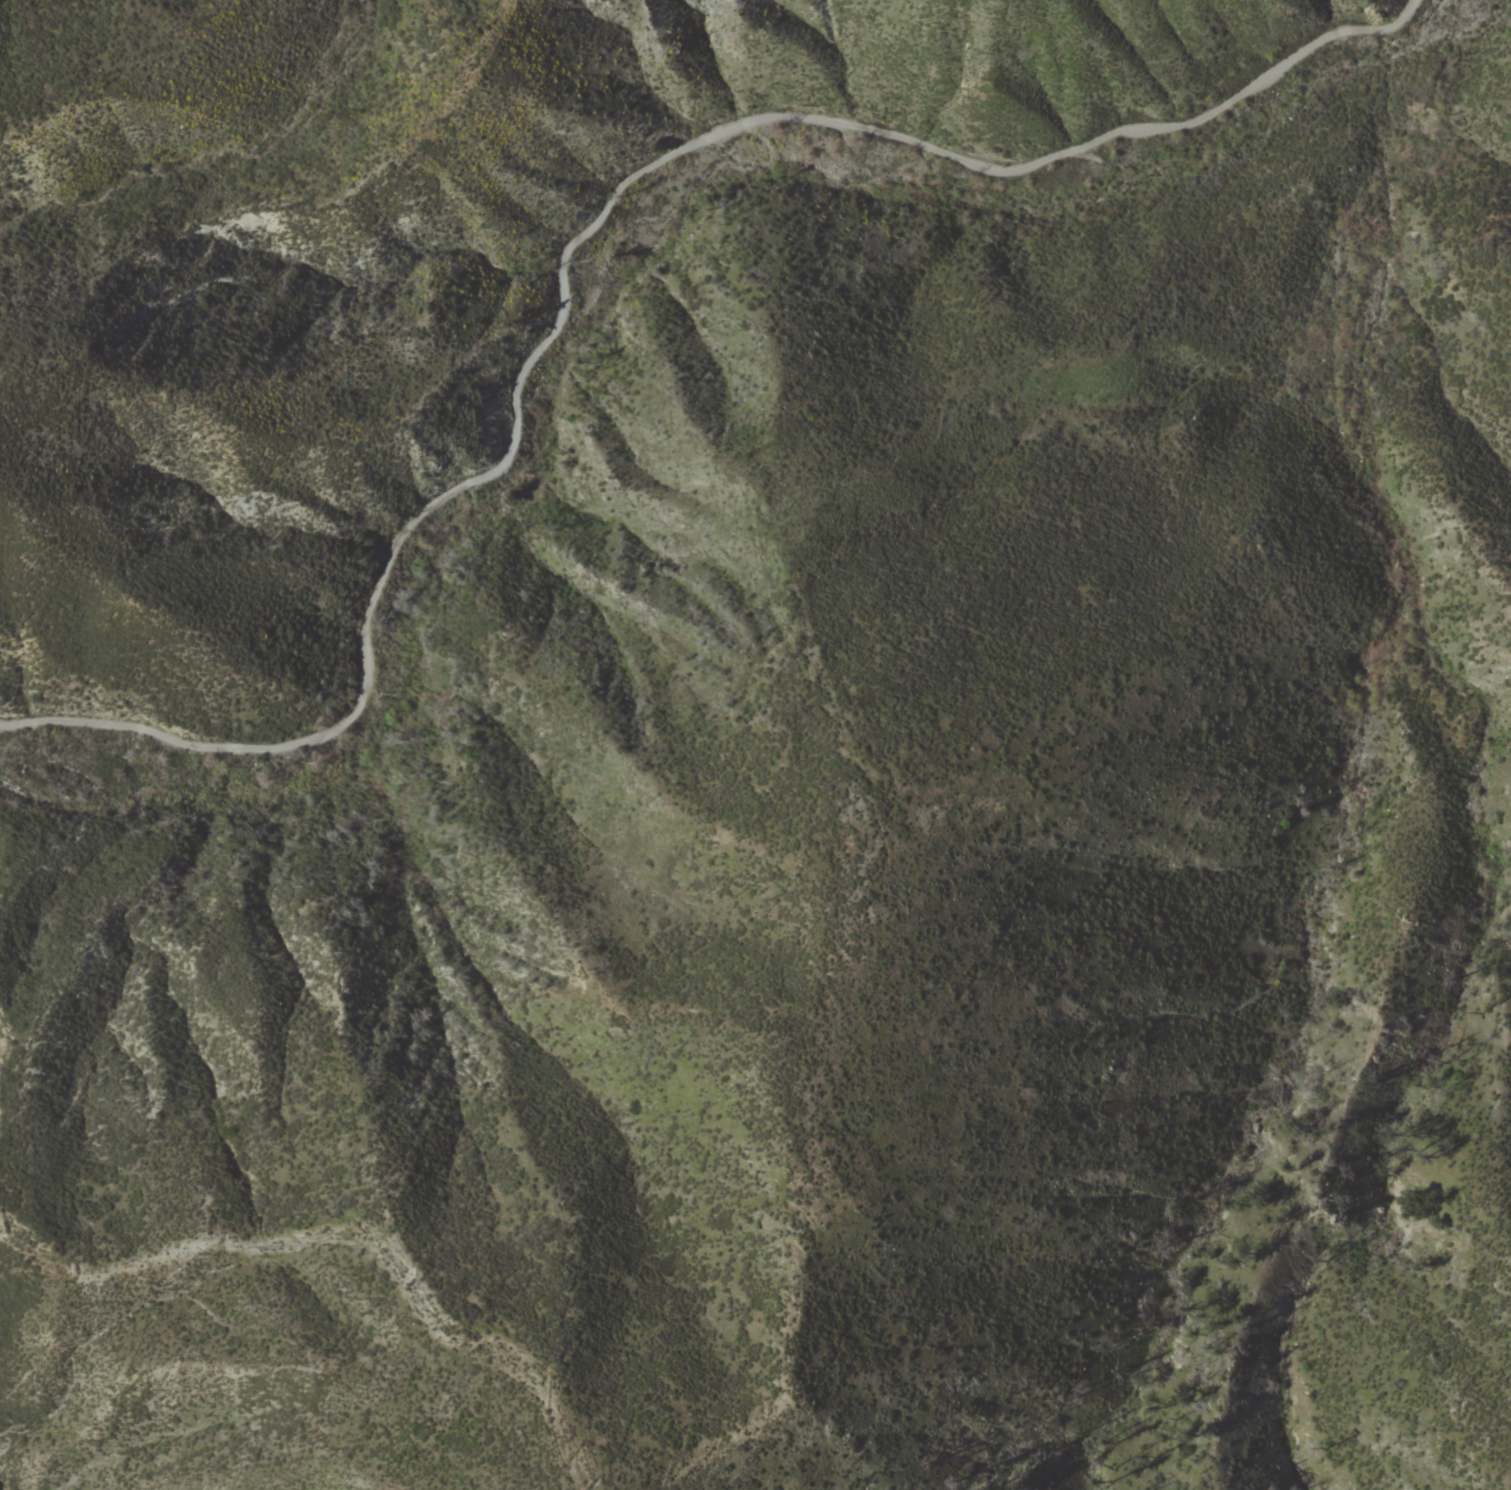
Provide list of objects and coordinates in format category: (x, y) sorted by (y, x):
road: (577, 237)

